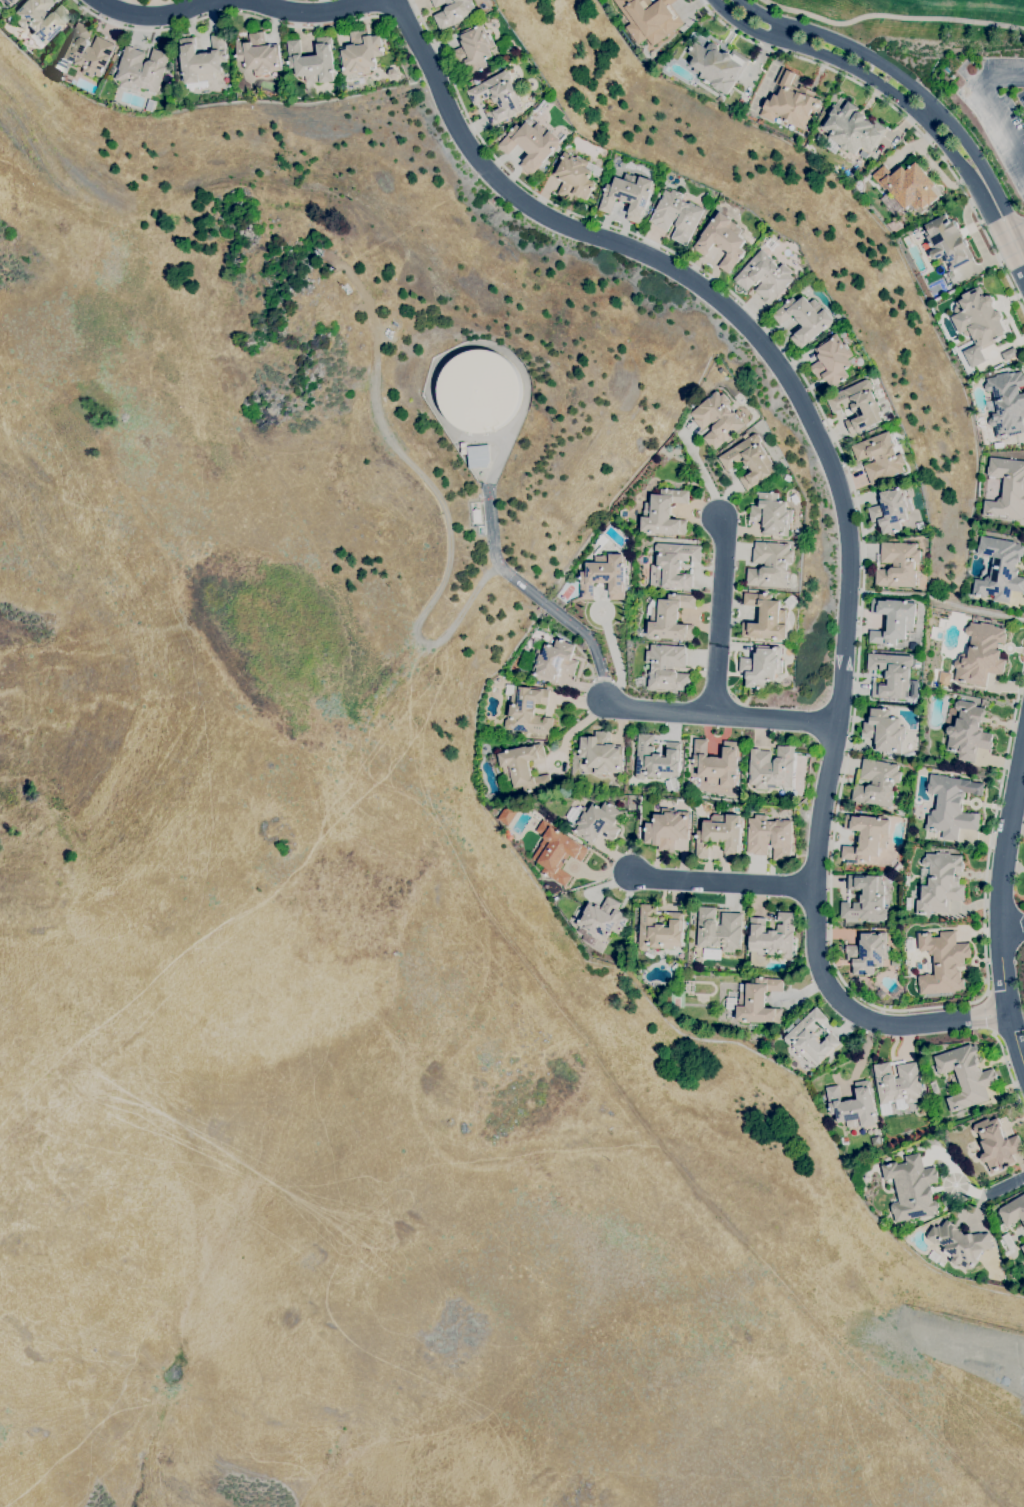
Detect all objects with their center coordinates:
building: (6, 1)
road: (306, 10)
road: (235, 12)
building: (453, 12)
road: (895, 15)
park: (908, 16)
road: (158, 17)
building: (10, 18)
building: (40, 18)
building: (650, 19)
road: (780, 30)
building: (474, 48)
building: (85, 52)
building: (361, 53)
building: (258, 54)
building: (201, 61)
building: (313, 61)
building: (717, 65)
building: (141, 70)
building: (393, 73)
road: (1007, 76)
road: (857, 80)
road: (905, 81)
road: (884, 87)
building: (497, 96)
building: (790, 102)
building: (150, 105)
road: (929, 113)
road: (1000, 119)
building: (852, 128)
building: (531, 144)
building: (573, 177)
building: (909, 185)
building: (628, 195)
building: (677, 215)
road: (1017, 227)
building: (722, 240)
building: (947, 243)
road: (1017, 245)
road: (1021, 246)
road: (1000, 259)
building: (765, 276)
building: (804, 319)
building: (978, 323)
building: (1009, 354)
building: (832, 361)
building: (478, 390)
building: (1007, 403)
building: (858, 405)
building: (716, 419)
building: (463, 448)
building: (478, 456)
building: (879, 457)
building: (749, 460)
road: (699, 469)
road: (848, 476)
building: (1007, 488)
road: (839, 492)
building: (891, 509)
road: (446, 510)
building: (664, 513)
building: (772, 514)
building: (475, 516)
building: (920, 526)
building: (601, 540)
building: (898, 564)
building: (672, 565)
building: (770, 565)
building: (999, 569)
building: (604, 576)
road: (535, 595)
road: (943, 600)
road: (721, 612)
building: (669, 617)
building: (765, 618)
building: (893, 620)
building: (980, 655)
building: (554, 661)
road: (616, 661)
building: (762, 665)
building: (667, 667)
building: (891, 675)
building: (945, 675)
building: (914, 689)
building: (527, 710)
road: (720, 713)
road: (574, 727)
building: (884, 730)
building: (967, 732)
building: (599, 755)
building: (656, 759)
building: (717, 763)
building: (523, 767)
building: (771, 768)
building: (876, 783)
building: (618, 787)
building: (781, 793)
building: (951, 806)
building: (507, 813)
building: (598, 823)
building: (666, 829)
road: (994, 829)
building: (720, 835)
building: (866, 835)
building: (769, 837)
building: (556, 852)
road: (722, 881)
building: (940, 883)
building: (865, 898)
road: (999, 907)
building: (600, 920)
road: (1011, 928)
building: (659, 930)
building: (719, 930)
building: (770, 939)
building: (711, 953)
building: (868, 953)
building: (943, 962)
building: (756, 1001)
road: (991, 1011)
building: (810, 1038)
road: (1008, 1070)
building: (966, 1076)
building: (897, 1085)
building: (853, 1106)
building: (996, 1144)
road: (1006, 1184)
building: (912, 1188)
building: (1013, 1211)
building: (960, 1243)
building: (1008, 1244)
building: (1023, 1247)

